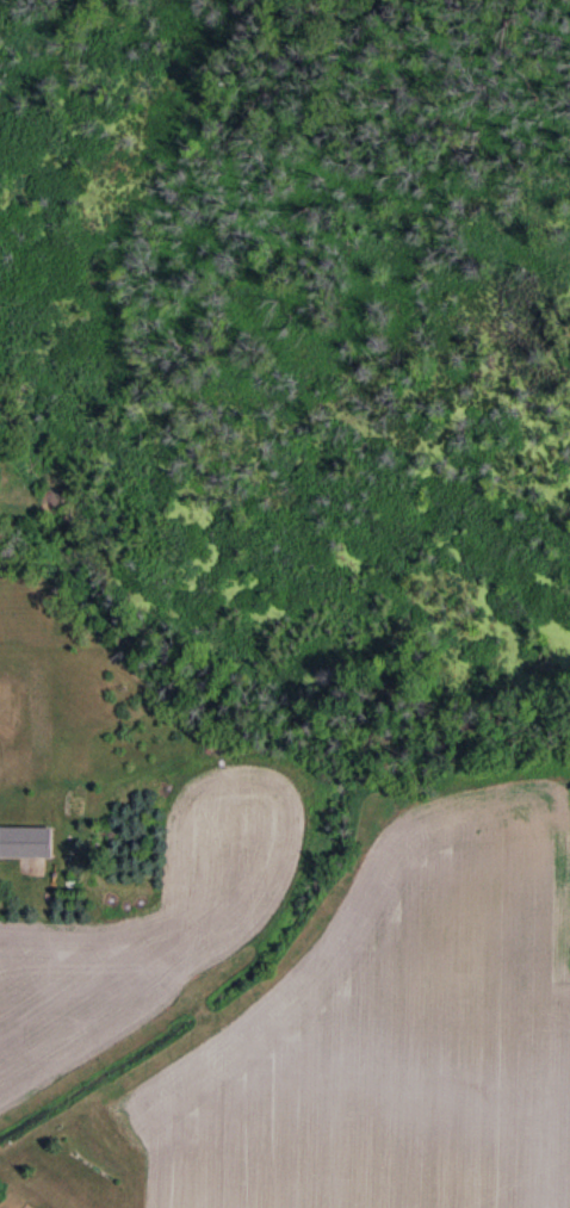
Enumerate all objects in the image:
building: (26, 843)

